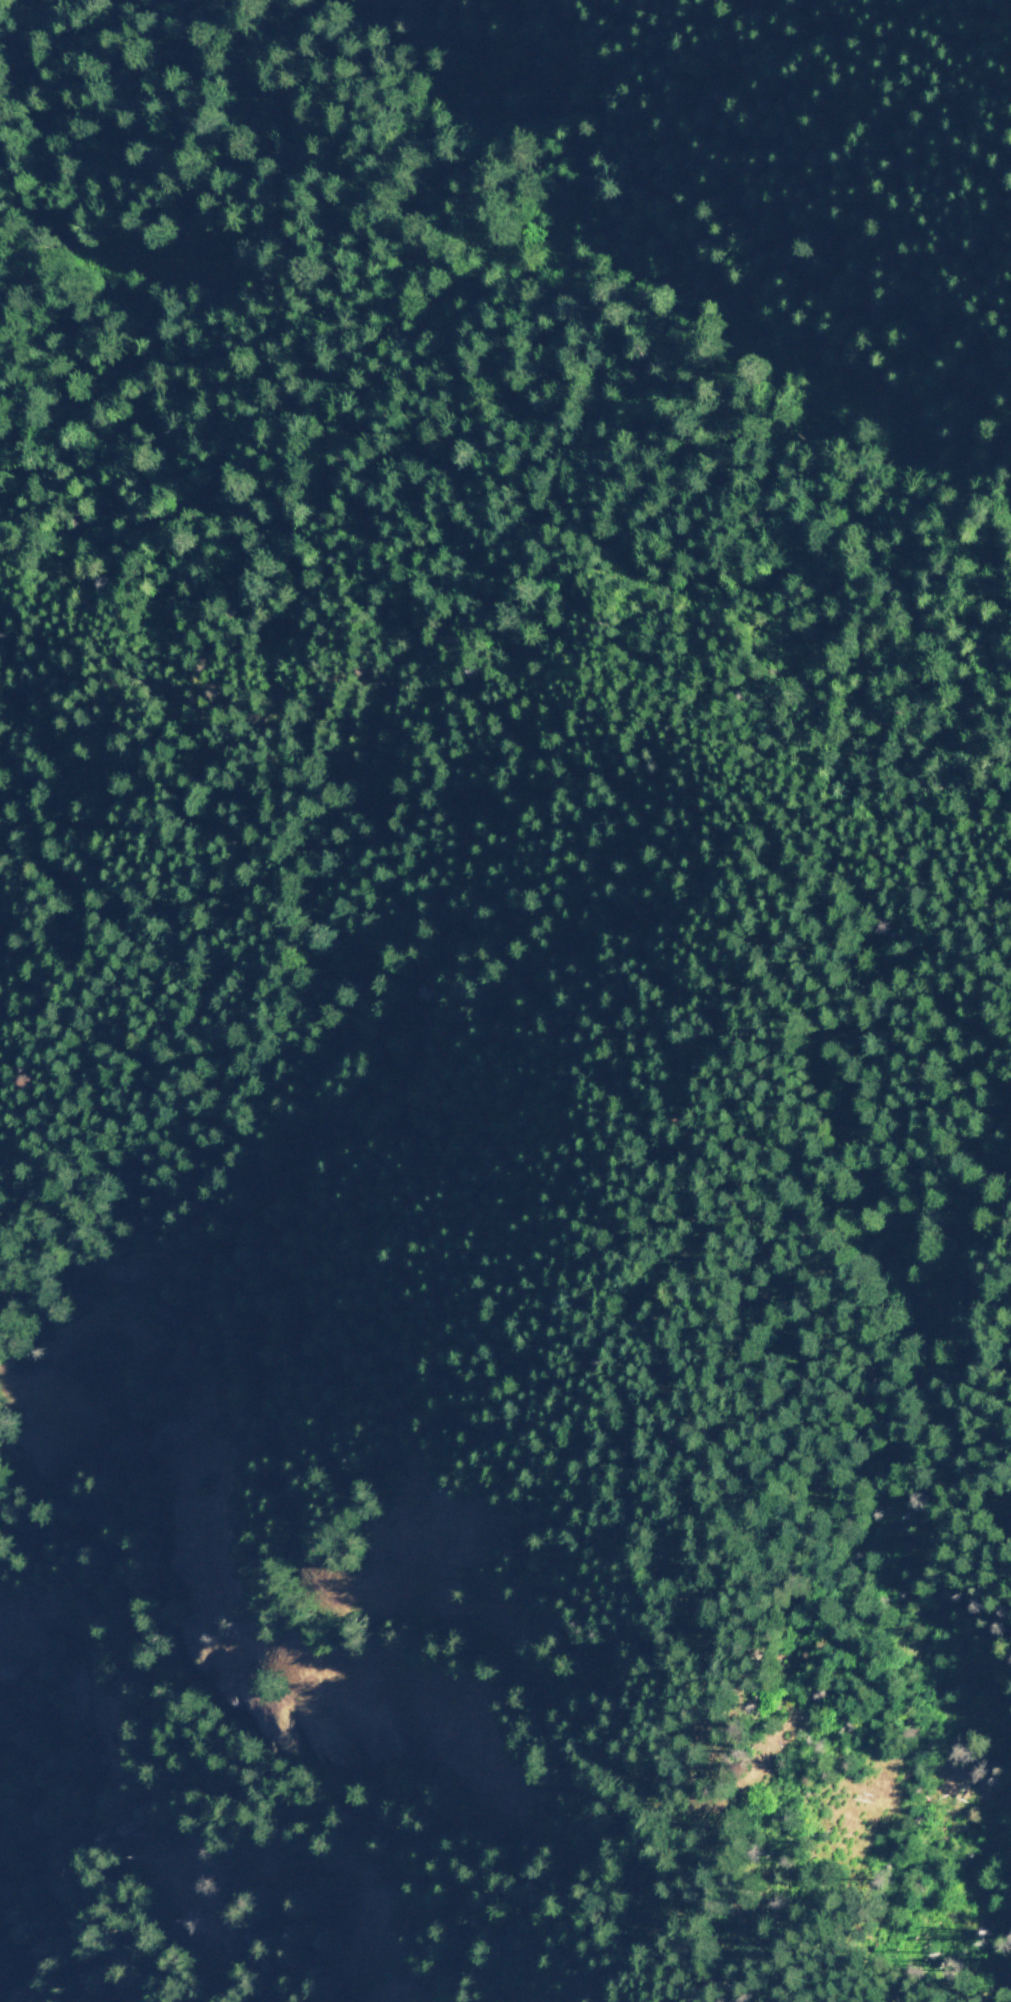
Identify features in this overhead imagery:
road: (477, 226)

